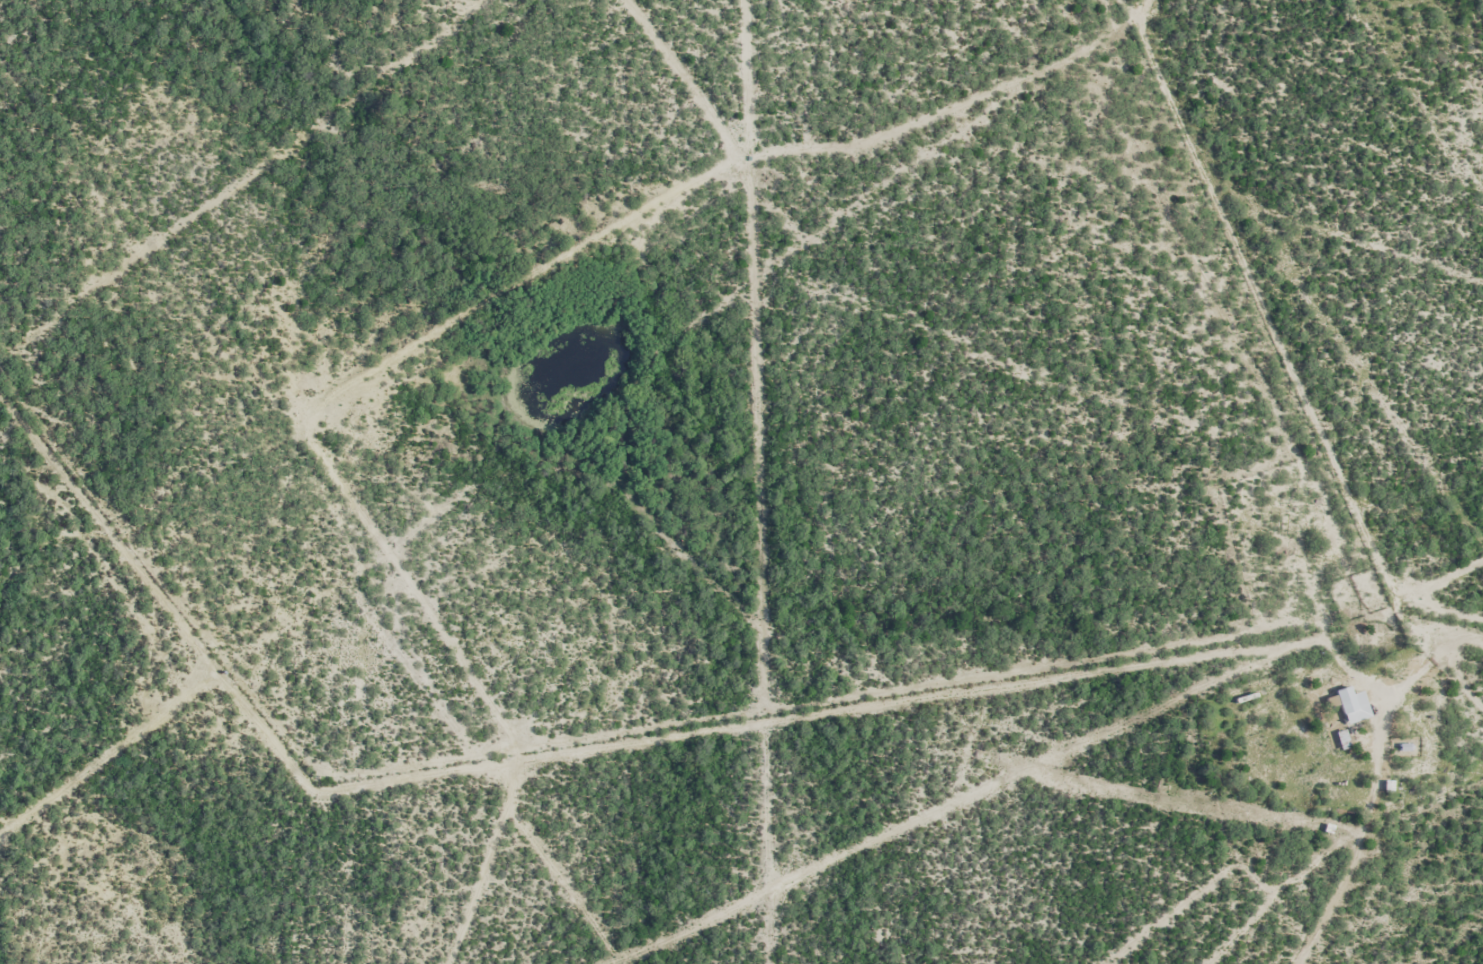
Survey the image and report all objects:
building: (1352, 705)
road: (1413, 855)
road: (1447, 918)

